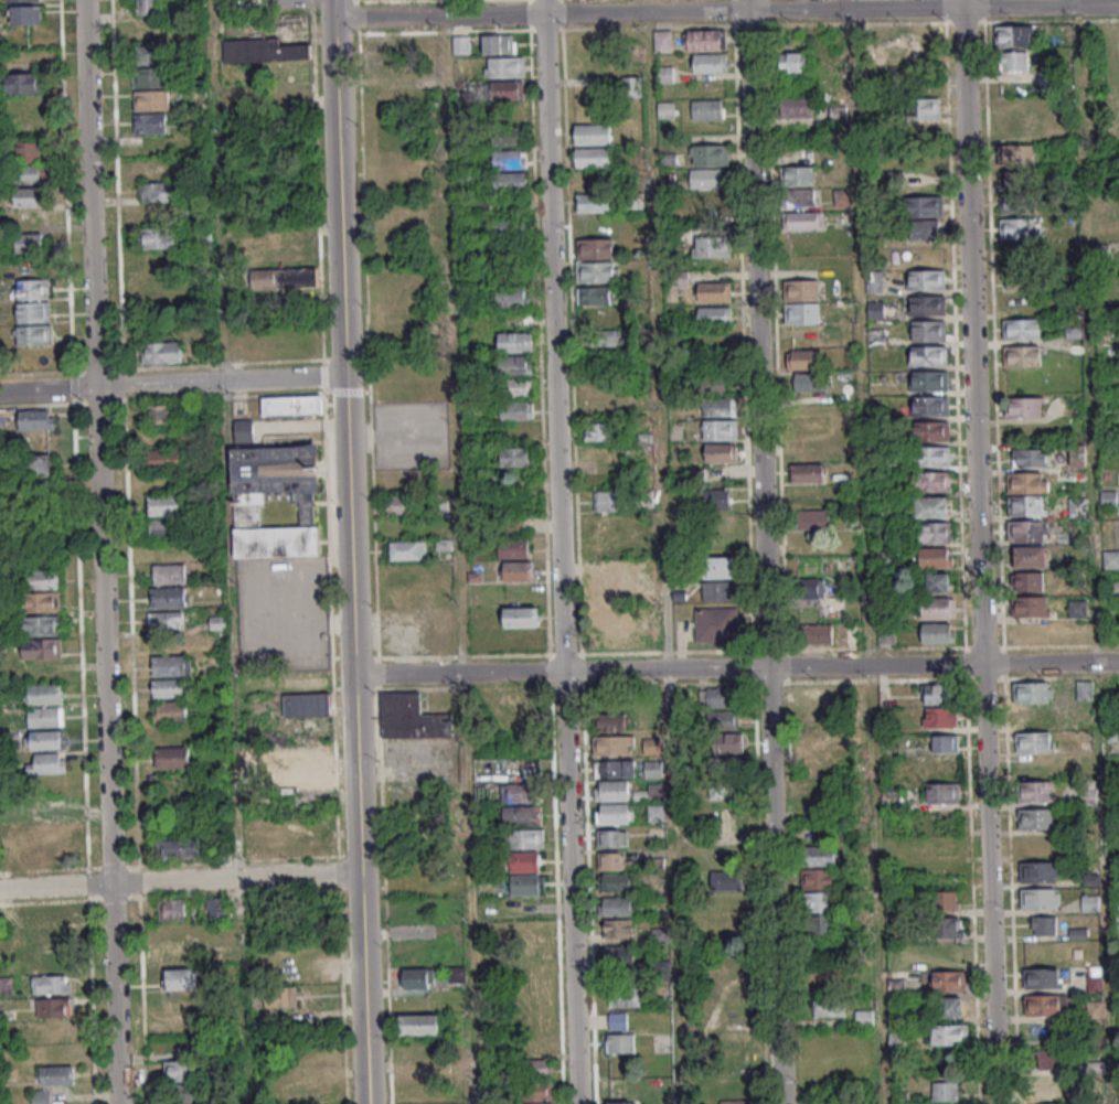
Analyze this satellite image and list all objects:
building: (22, 0)
road: (353, 1)
road: (1077, 2)
building: (147, 7)
road: (725, 11)
building: (25, 14)
road: (355, 18)
road: (1040, 21)
road: (951, 23)
road: (842, 24)
building: (1013, 35)
building: (707, 39)
building: (662, 41)
building: (498, 43)
building: (460, 44)
building: (387, 46)
building: (263, 51)
building: (150, 54)
building: (1014, 61)
building: (795, 62)
building: (710, 63)
building: (505, 66)
building: (390, 68)
building: (664, 74)
building: (150, 77)
building: (632, 82)
building: (24, 83)
building: (507, 89)
building: (151, 100)
building: (795, 106)
building: (924, 108)
building: (665, 109)
building: (706, 109)
building: (511, 112)
building: (150, 122)
building: (593, 133)
building: (509, 136)
building: (29, 151)
building: (710, 154)
building: (1015, 154)
building: (594, 157)
building: (510, 159)
building: (154, 169)
building: (28, 173)
building: (797, 174)
building: (705, 178)
building: (510, 181)
building: (1019, 181)
building: (156, 191)
road: (219, 191)
road: (89, 193)
building: (28, 196)
building: (800, 197)
building: (593, 203)
building: (1017, 204)
building: (925, 206)
building: (804, 219)
building: (511, 226)
building: (1020, 228)
building: (925, 229)
building: (159, 238)
building: (29, 243)
building: (712, 246)
building: (596, 248)
building: (276, 255)
building: (597, 271)
building: (1019, 275)
building: (299, 277)
building: (925, 279)
building: (264, 280)
building: (33, 289)
building: (715, 291)
building: (512, 296)
building: (594, 296)
building: (802, 301)
building: (928, 304)
building: (33, 311)
building: (715, 314)
building: (1021, 329)
building: (929, 330)
road: (971, 331)
building: (33, 335)
road: (553, 335)
building: (601, 339)
building: (714, 340)
building: (514, 342)
road: (366, 347)
building: (161, 352)
building: (928, 355)
building: (1022, 355)
building: (803, 360)
building: (515, 375)
building: (929, 379)
road: (220, 382)
building: (810, 382)
building: (716, 383)
road: (47, 389)
building: (291, 405)
building: (931, 405)
building: (1025, 406)
building: (720, 407)
building: (516, 409)
building: (160, 414)
building: (36, 419)
building: (808, 427)
building: (244, 430)
building: (721, 430)
building: (932, 430)
building: (599, 431)
building: (722, 452)
building: (932, 455)
building: (1078, 455)
building: (516, 457)
building: (163, 458)
building: (1031, 458)
building: (41, 464)
road: (347, 467)
building: (808, 473)
building: (932, 481)
building: (1027, 482)
building: (809, 496)
building: (714, 499)
building: (1109, 499)
building: (275, 500)
building: (607, 501)
building: (163, 504)
building: (398, 504)
building: (934, 506)
building: (1025, 506)
building: (884, 512)
building: (813, 519)
building: (164, 528)
building: (934, 532)
building: (1023, 532)
building: (513, 547)
building: (408, 549)
road: (458, 551)
road: (661, 551)
road: (764, 551)
road: (868, 551)
road: (1098, 554)
building: (891, 556)
building: (1031, 556)
building: (934, 557)
building: (1111, 559)
building: (721, 567)
building: (520, 571)
building: (169, 574)
building: (43, 578)
building: (1029, 580)
building: (937, 582)
building: (811, 588)
building: (648, 589)
building: (720, 590)
building: (607, 591)
building: (168, 597)
building: (42, 601)
building: (1031, 605)
building: (935, 607)
building: (1077, 608)
building: (606, 614)
building: (522, 617)
building: (166, 620)
building: (42, 624)
building: (717, 624)
building: (939, 632)
building: (818, 633)
building: (887, 634)
road: (104, 635)
building: (42, 647)
road: (1049, 662)
building: (171, 665)
road: (772, 666)
road: (493, 673)
road: (387, 674)
road: (377, 675)
building: (169, 687)
building: (1034, 692)
building: (939, 693)
building: (44, 694)
building: (306, 696)
building: (721, 696)
building: (170, 710)
building: (44, 716)
building: (940, 716)
building: (411, 718)
building: (721, 718)
building: (609, 722)
building: (44, 739)
building: (818, 740)
building: (1034, 741)
road: (235, 742)
building: (727, 742)
building: (945, 743)
building: (614, 744)
building: (306, 750)
building: (172, 757)
building: (46, 762)
building: (612, 768)
building: (308, 773)
building: (611, 790)
building: (717, 791)
building: (1038, 791)
building: (521, 792)
building: (944, 792)
building: (891, 798)
building: (53, 807)
building: (615, 813)
building: (656, 813)
building: (522, 814)
building: (1036, 817)
building: (49, 832)
building: (524, 838)
building: (612, 838)
building: (179, 848)
building: (819, 856)
building: (615, 860)
building: (1040, 870)
building: (525, 872)
road: (235, 878)
building: (731, 879)
building: (617, 881)
road: (989, 883)
road: (55, 886)
road: (571, 888)
road: (385, 897)
building: (1040, 898)
building: (946, 899)
building: (819, 901)
building: (1090, 903)
building: (617, 905)
building: (215, 907)
building: (172, 909)
building: (55, 914)
building: (1044, 924)
building: (950, 926)
building: (619, 929)
building: (56, 937)
building: (177, 955)
building: (619, 955)
building: (457, 973)
building: (418, 977)
building: (1043, 977)
building: (181, 978)
building: (948, 980)
building: (51, 984)
building: (1095, 984)
road: (115, 994)
building: (281, 996)
building: (625, 998)
building: (1046, 1004)
building: (829, 1005)
building: (953, 1006)
building: (53, 1007)
building: (1095, 1009)
building: (864, 1017)
road: (363, 1019)
building: (419, 1023)
building: (950, 1033)
building: (619, 1035)
building: (1054, 1059)
building: (535, 1068)
building: (180, 1070)
building: (52, 1082)
building: (1052, 1085)
building: (945, 1090)
building: (419, 1092)
building: (536, 1092)
building: (185, 1093)
building: (620, 1102)
building: (1052, 1103)

